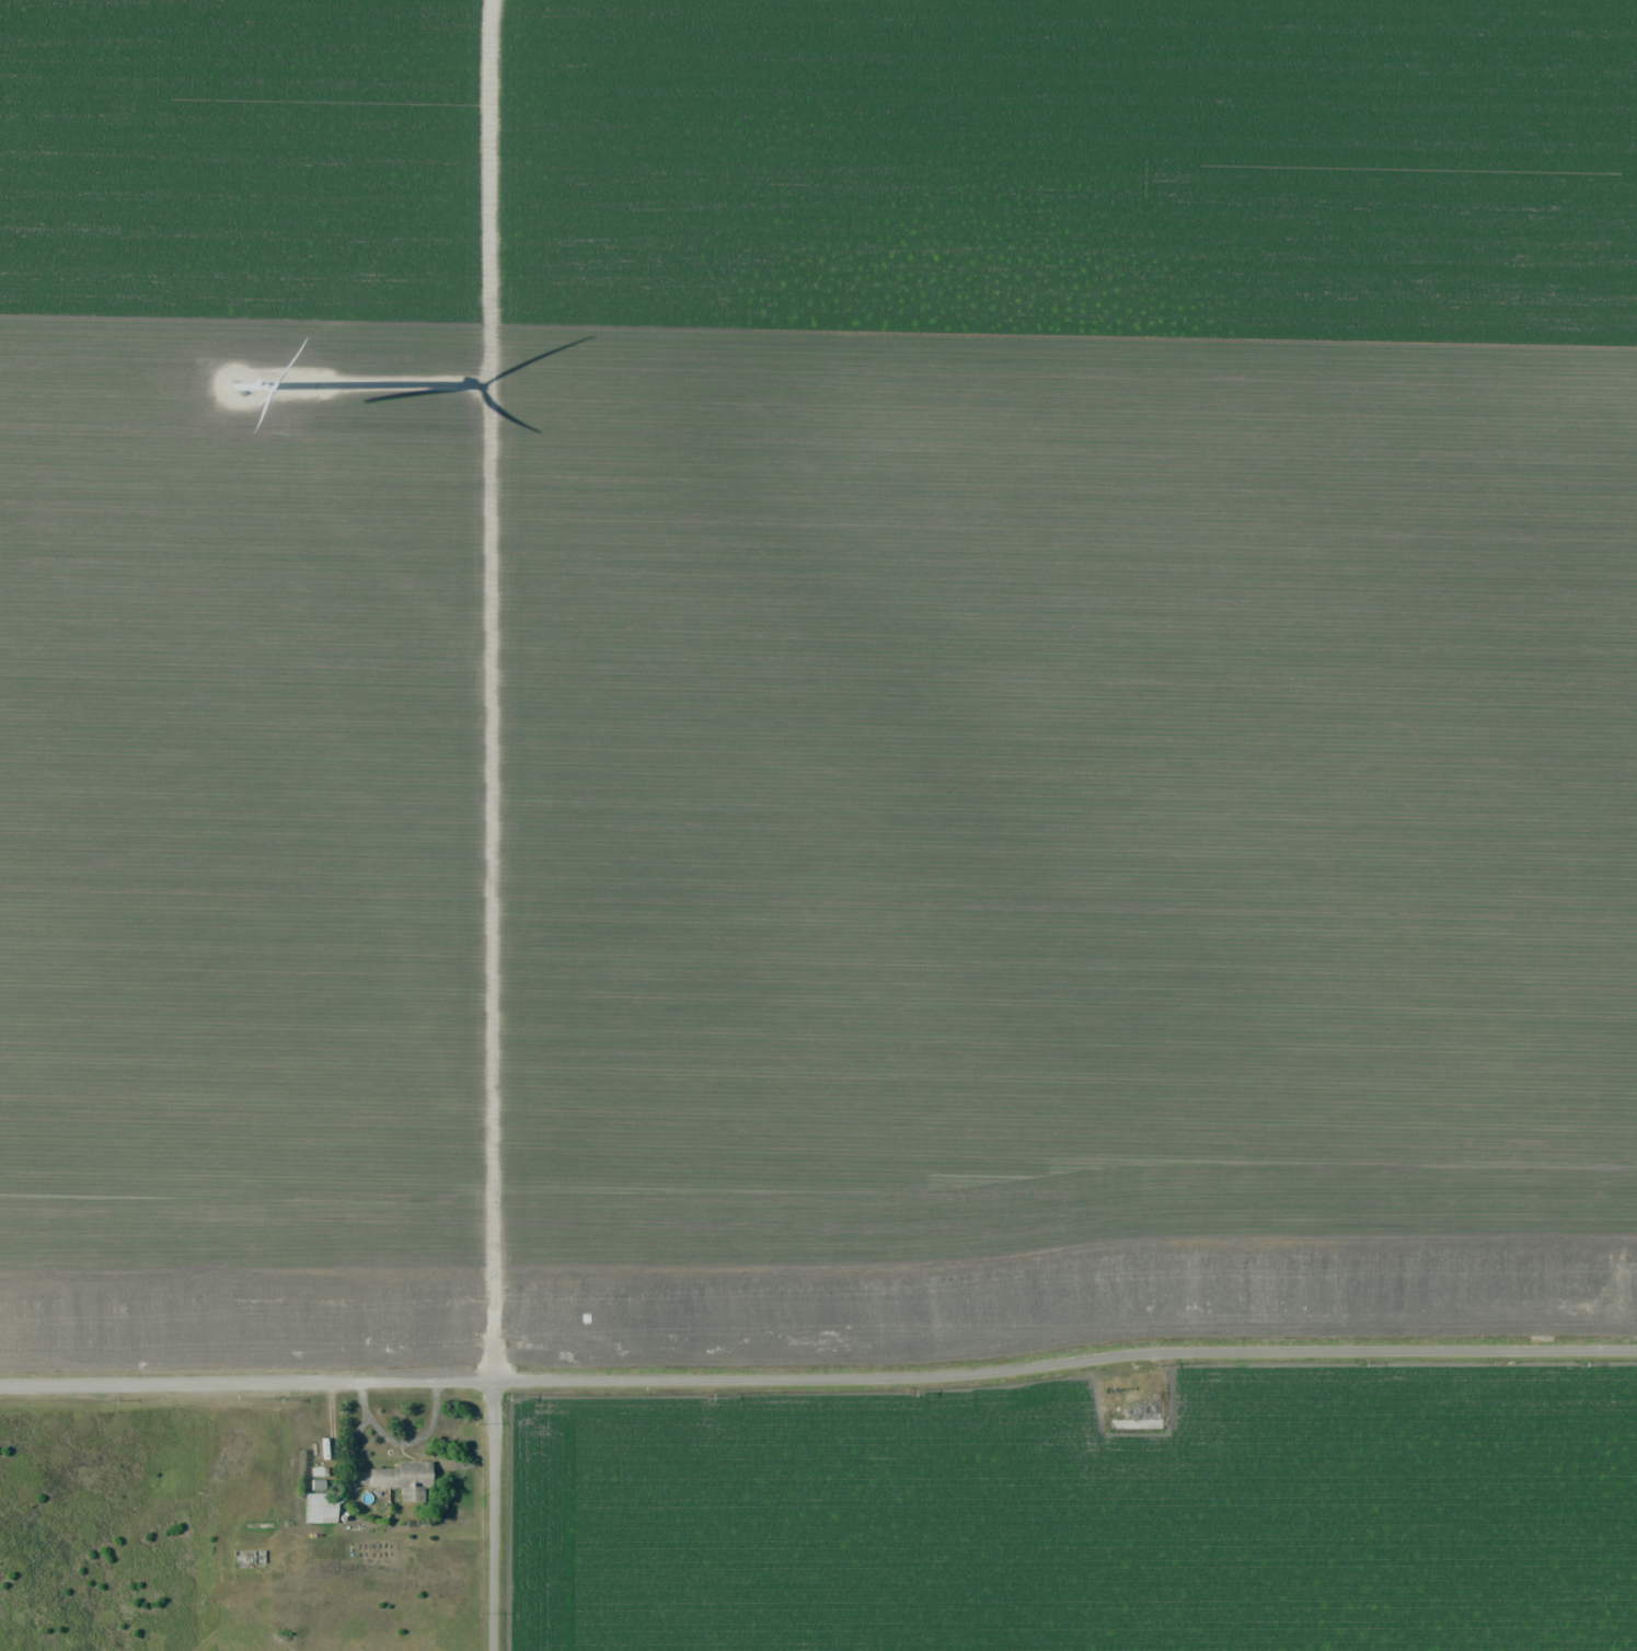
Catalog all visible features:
wind turbine: (255, 386)
road: (819, 1383)
building: (1135, 1410)
building: (401, 1479)
building: (319, 1508)
road: (489, 1517)

